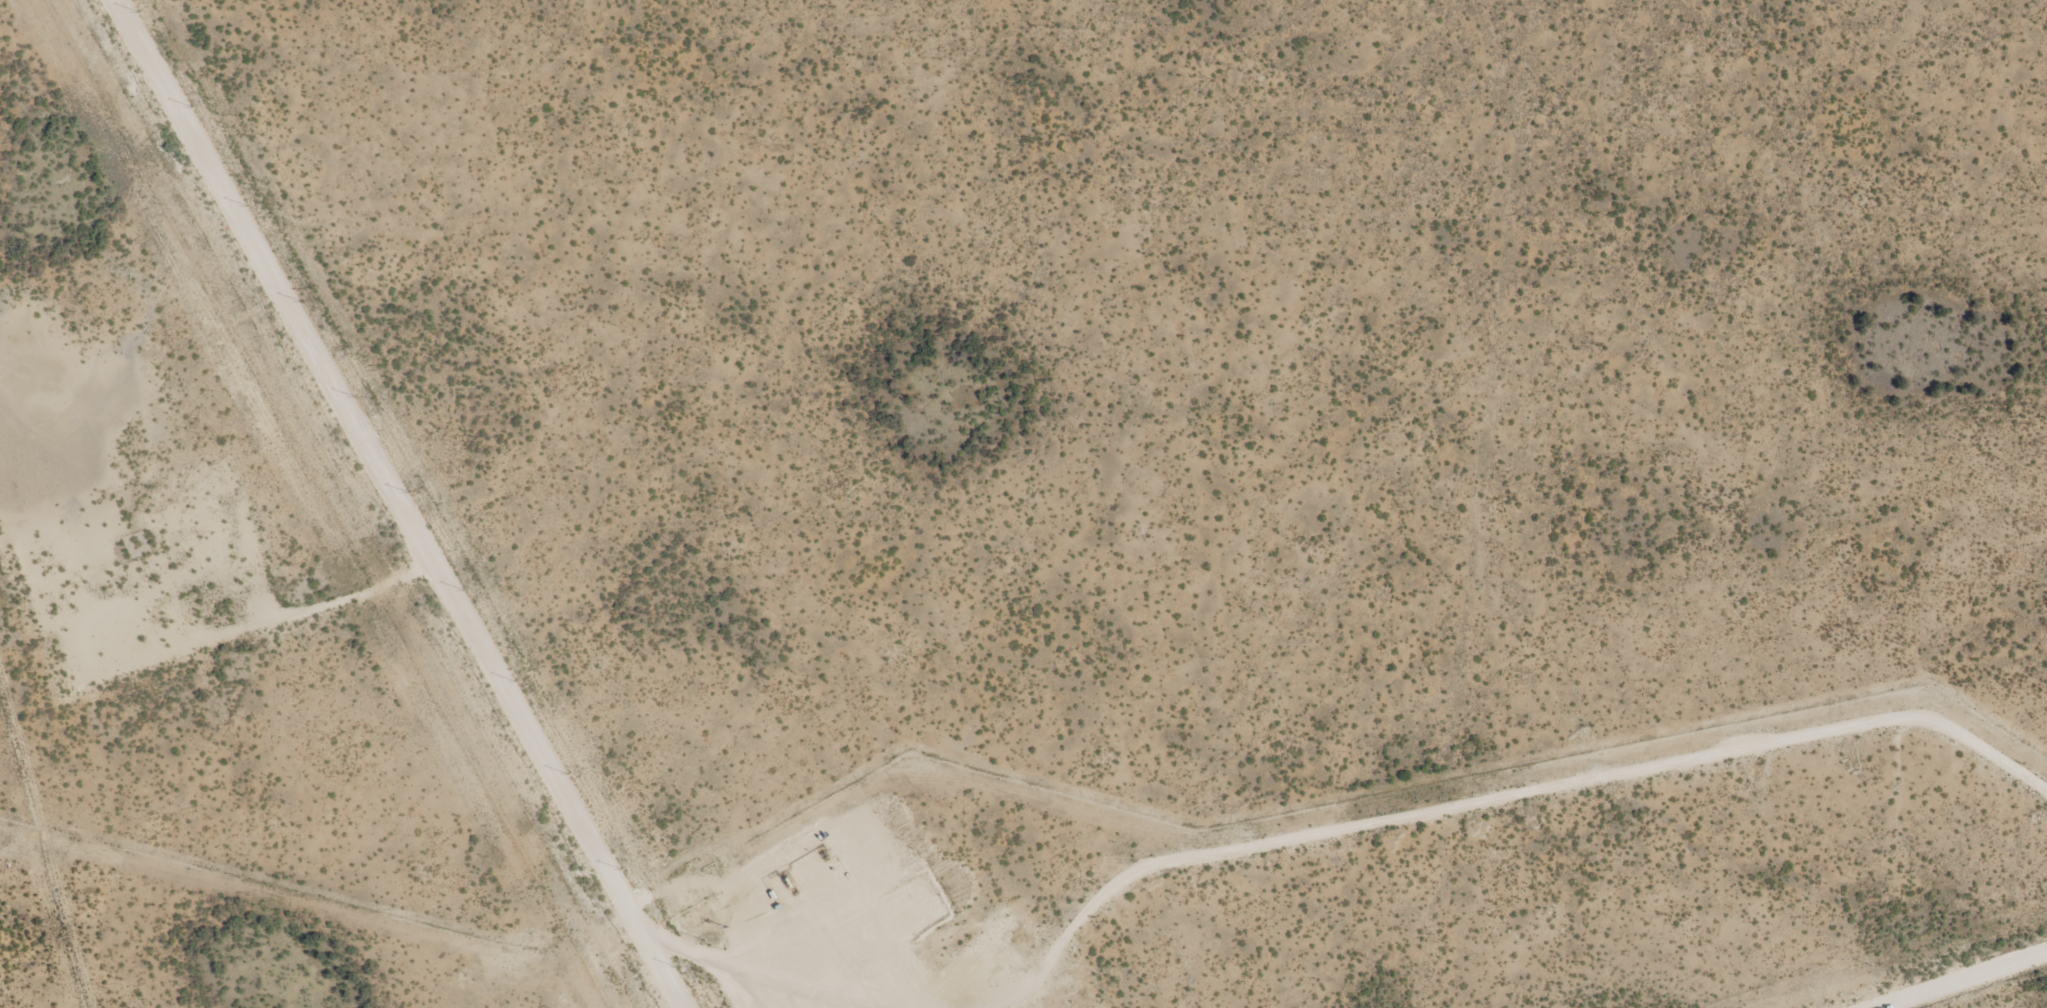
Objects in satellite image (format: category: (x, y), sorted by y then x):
road: (354, 415)
road: (563, 784)
road: (1507, 793)
road: (695, 952)
road: (2035, 1004)

